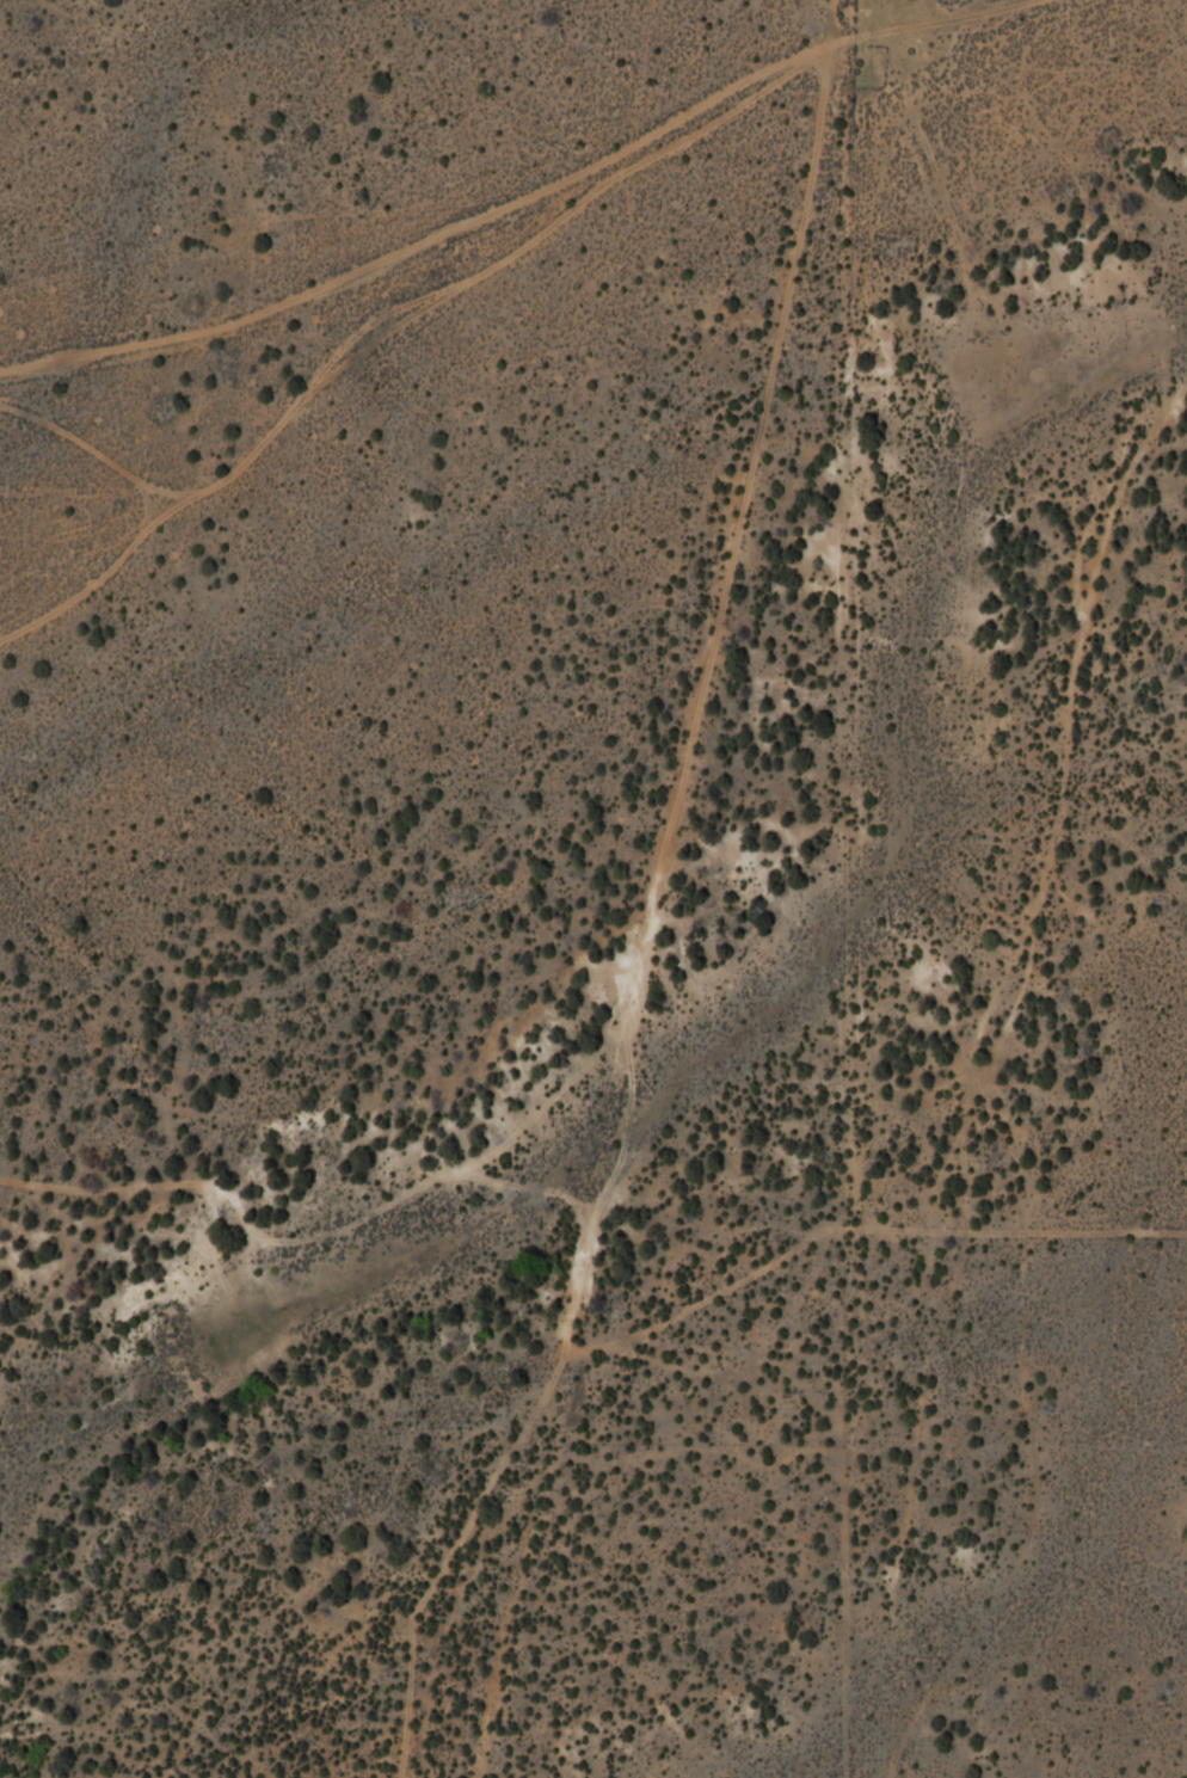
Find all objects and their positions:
road: (757, 429)
road: (990, 1085)
road: (72, 1223)
road: (562, 1331)

